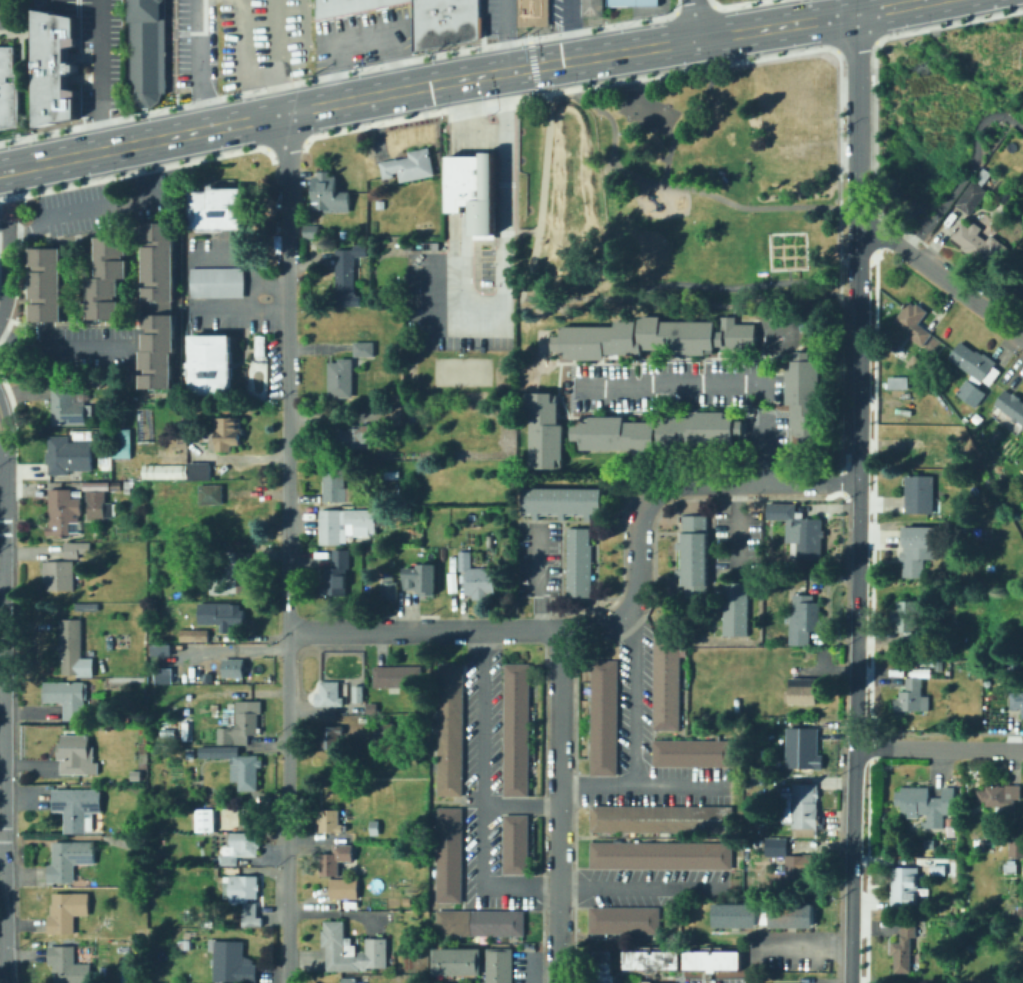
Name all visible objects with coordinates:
road: (712, 1)
road: (49, 2)
road: (734, 3)
building: (628, 4)
road: (675, 5)
road: (868, 5)
road: (889, 5)
road: (692, 6)
building: (348, 7)
road: (830, 8)
building: (589, 9)
building: (531, 12)
road: (692, 19)
road: (790, 22)
building: (442, 23)
road: (948, 23)
road: (568, 29)
road: (362, 35)
road: (503, 35)
road: (852, 46)
building: (145, 50)
road: (242, 63)
road: (532, 64)
road: (200, 66)
building: (45, 71)
road: (335, 72)
road: (666, 73)
road: (99, 76)
building: (7, 86)
road: (360, 99)
park: (649, 111)
road: (460, 117)
road: (402, 119)
road: (682, 122)
road: (858, 122)
road: (284, 147)
road: (874, 150)
road: (573, 158)
building: (998, 162)
road: (568, 163)
building: (410, 166)
road: (838, 168)
road: (132, 173)
road: (970, 174)
road: (459, 183)
building: (472, 189)
road: (695, 190)
building: (974, 193)
building: (329, 195)
park: (660, 197)
park: (574, 199)
building: (381, 204)
road: (90, 207)
building: (215, 208)
road: (7, 209)
road: (588, 214)
road: (517, 228)
road: (878, 228)
building: (311, 232)
building: (980, 244)
building: (436, 246)
road: (556, 254)
road: (857, 259)
road: (243, 261)
building: (1012, 263)
parking lot: (486, 265)
road: (502, 267)
road: (8, 274)
building: (107, 275)
building: (348, 275)
road: (943, 278)
building: (216, 281)
building: (45, 283)
parking lot: (411, 289)
building: (1021, 290)
road: (248, 295)
road: (578, 297)
building: (158, 303)
road: (842, 305)
road: (238, 307)
building: (914, 323)
building: (650, 337)
building: (258, 344)
road: (64, 347)
building: (364, 349)
building: (942, 356)
building: (210, 364)
building: (974, 373)
building: (341, 379)
road: (717, 381)
building: (900, 383)
building: (924, 383)
road: (10, 395)
building: (805, 399)
building: (69, 407)
building: (1009, 407)
building: (398, 414)
building: (105, 423)
building: (1022, 428)
road: (3, 429)
building: (545, 431)
building: (658, 432)
building: (190, 434)
building: (226, 435)
building: (353, 438)
building: (121, 443)
building: (919, 446)
building: (417, 450)
building: (69, 456)
building: (935, 460)
building: (996, 461)
building: (199, 471)
building: (163, 472)
building: (393, 475)
building: (336, 485)
road: (2, 486)
building: (118, 486)
building: (919, 490)
building: (211, 495)
road: (648, 495)
road: (2, 499)
building: (563, 502)
road: (5, 503)
building: (100, 505)
building: (64, 513)
building: (237, 517)
building: (367, 518)
building: (332, 526)
road: (738, 529)
building: (799, 530)
building: (977, 534)
building: (488, 540)
road: (287, 548)
building: (77, 549)
building: (916, 549)
building: (695, 555)
building: (580, 562)
road: (2, 564)
building: (234, 575)
building: (338, 575)
building: (60, 576)
road: (539, 576)
building: (419, 577)
building: (478, 578)
building: (451, 580)
building: (386, 587)
building: (85, 607)
road: (857, 608)
building: (736, 609)
building: (221, 615)
road: (870, 616)
building: (804, 620)
building: (908, 622)
road: (413, 630)
building: (195, 636)
building: (73, 649)
building: (158, 649)
building: (1015, 662)
building: (234, 669)
building: (892, 669)
building: (161, 675)
building: (397, 677)
building: (667, 680)
building: (891, 681)
building: (803, 691)
road: (2, 694)
building: (357, 694)
building: (331, 695)
building: (68, 697)
building: (913, 697)
road: (632, 700)
building: (1017, 701)
building: (371, 707)
building: (605, 717)
building: (242, 723)
building: (448, 728)
building: (515, 728)
building: (184, 730)
building: (384, 732)
building: (330, 737)
building: (806, 745)
road: (938, 748)
building: (693, 754)
building: (77, 755)
building: (240, 766)
road: (6, 773)
building: (136, 775)
road: (641, 784)
building: (416, 792)
road: (480, 796)
building: (1001, 799)
building: (926, 805)
road: (520, 806)
road: (559, 806)
building: (802, 807)
building: (78, 808)
building: (205, 820)
building: (662, 820)
building: (330, 821)
building: (375, 827)
building: (359, 833)
building: (515, 843)
building: (1017, 843)
road: (3, 844)
building: (930, 844)
building: (241, 848)
building: (447, 855)
building: (662, 856)
building: (424, 858)
building: (70, 859)
building: (336, 860)
building: (790, 866)
building: (1010, 869)
building: (939, 870)
road: (642, 887)
building: (243, 888)
building: (905, 888)
building: (345, 889)
building: (67, 912)
building: (251, 915)
building: (733, 915)
building: (789, 915)
building: (478, 921)
building: (625, 921)
building: (139, 942)
road: (801, 943)
building: (904, 948)
building: (350, 950)
building: (650, 958)
building: (711, 958)
building: (455, 960)
building: (232, 963)
road: (534, 963)
building: (68, 965)
building: (497, 965)
building: (602, 966)
building: (349, 980)
building: (644, 981)
building: (440, 982)
building: (1015, 982)

